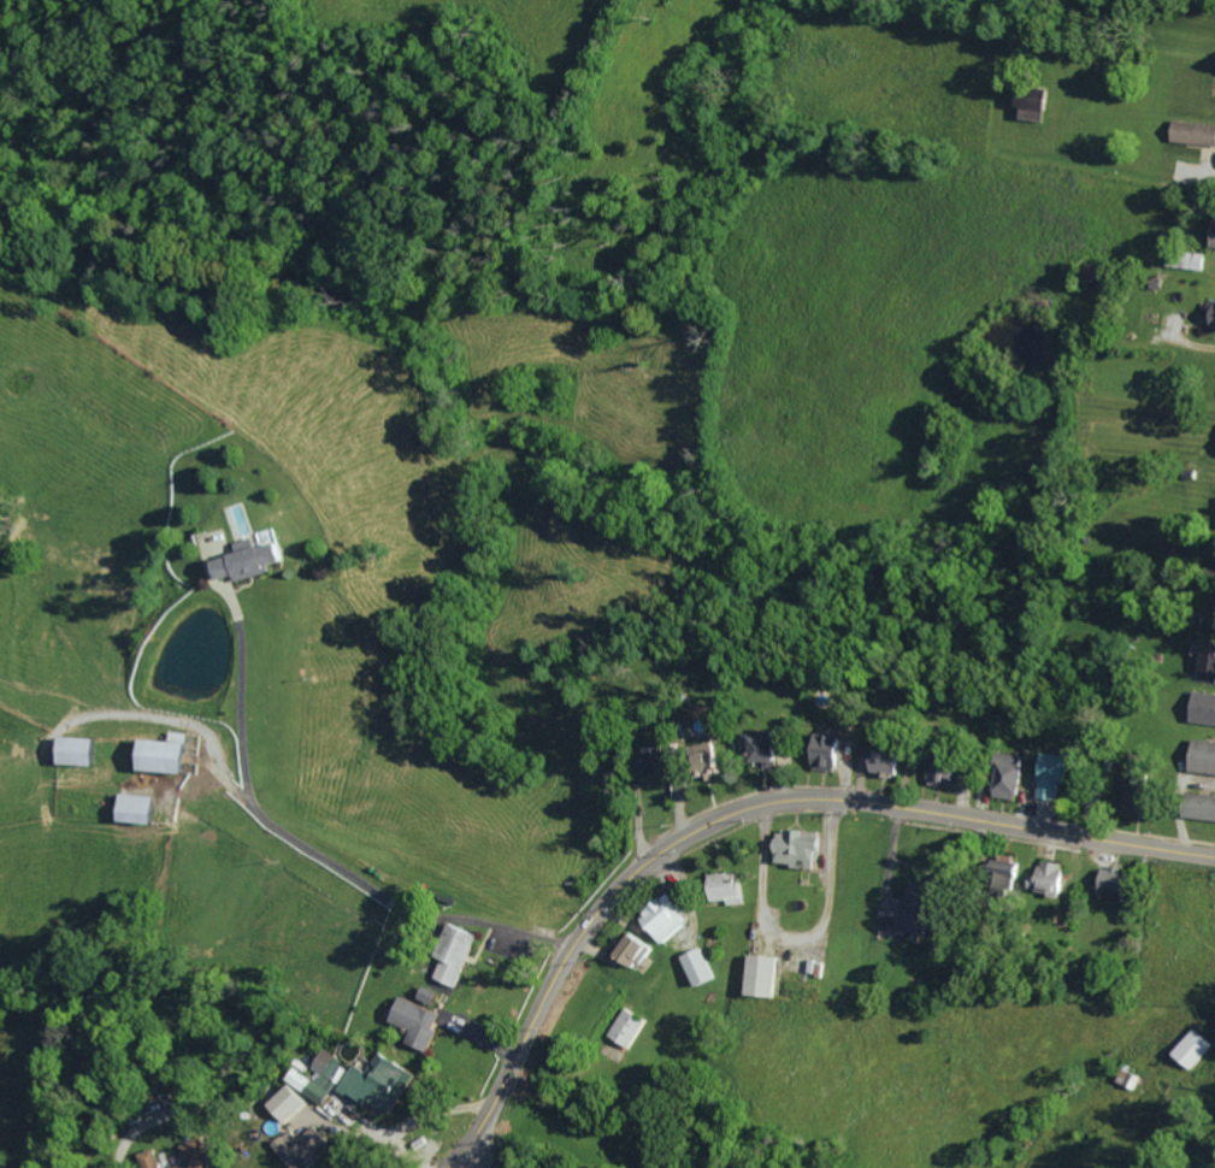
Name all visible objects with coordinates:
building: (1032, 106)
building: (1186, 132)
building: (1208, 236)
building: (1175, 258)
building: (1204, 312)
building: (256, 558)
building: (1191, 615)
building: (1202, 656)
building: (1197, 703)
building: (751, 745)
building: (772, 748)
building: (816, 749)
building: (82, 750)
building: (831, 751)
building: (170, 753)
building: (695, 753)
building: (1196, 753)
building: (642, 755)
building: (875, 760)
building: (934, 765)
building: (1056, 769)
building: (996, 772)
building: (1011, 775)
building: (1139, 785)
building: (1193, 800)
building: (140, 808)
road: (1015, 825)
building: (798, 848)
building: (1011, 871)
building: (1051, 877)
building: (1037, 879)
building: (1104, 879)
building: (712, 885)
building: (730, 889)
building: (925, 906)
building: (648, 914)
building: (667, 919)
road: (583, 930)
road: (796, 939)
building: (623, 948)
building: (460, 955)
building: (698, 966)
building: (743, 973)
building: (763, 975)
building: (433, 996)
building: (423, 1021)
building: (618, 1026)
building: (1193, 1044)
building: (325, 1061)
building: (335, 1073)
building: (1132, 1074)
building: (376, 1081)
building: (308, 1085)
building: (288, 1102)
building: (303, 1145)
road: (472, 1148)
building: (194, 1155)
building: (152, 1158)

